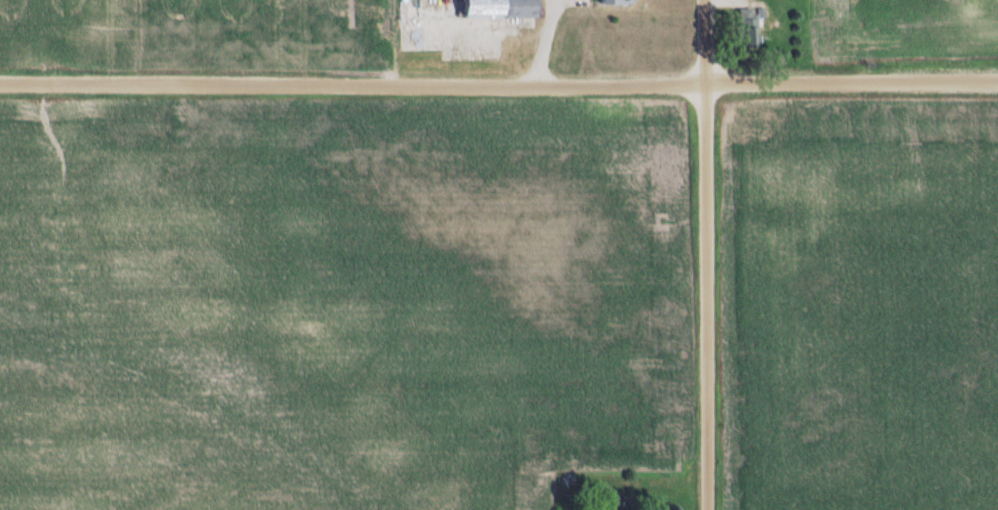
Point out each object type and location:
building: (617, 2)
building: (499, 9)
building: (427, 10)
building: (748, 29)
road: (499, 84)
road: (706, 254)

